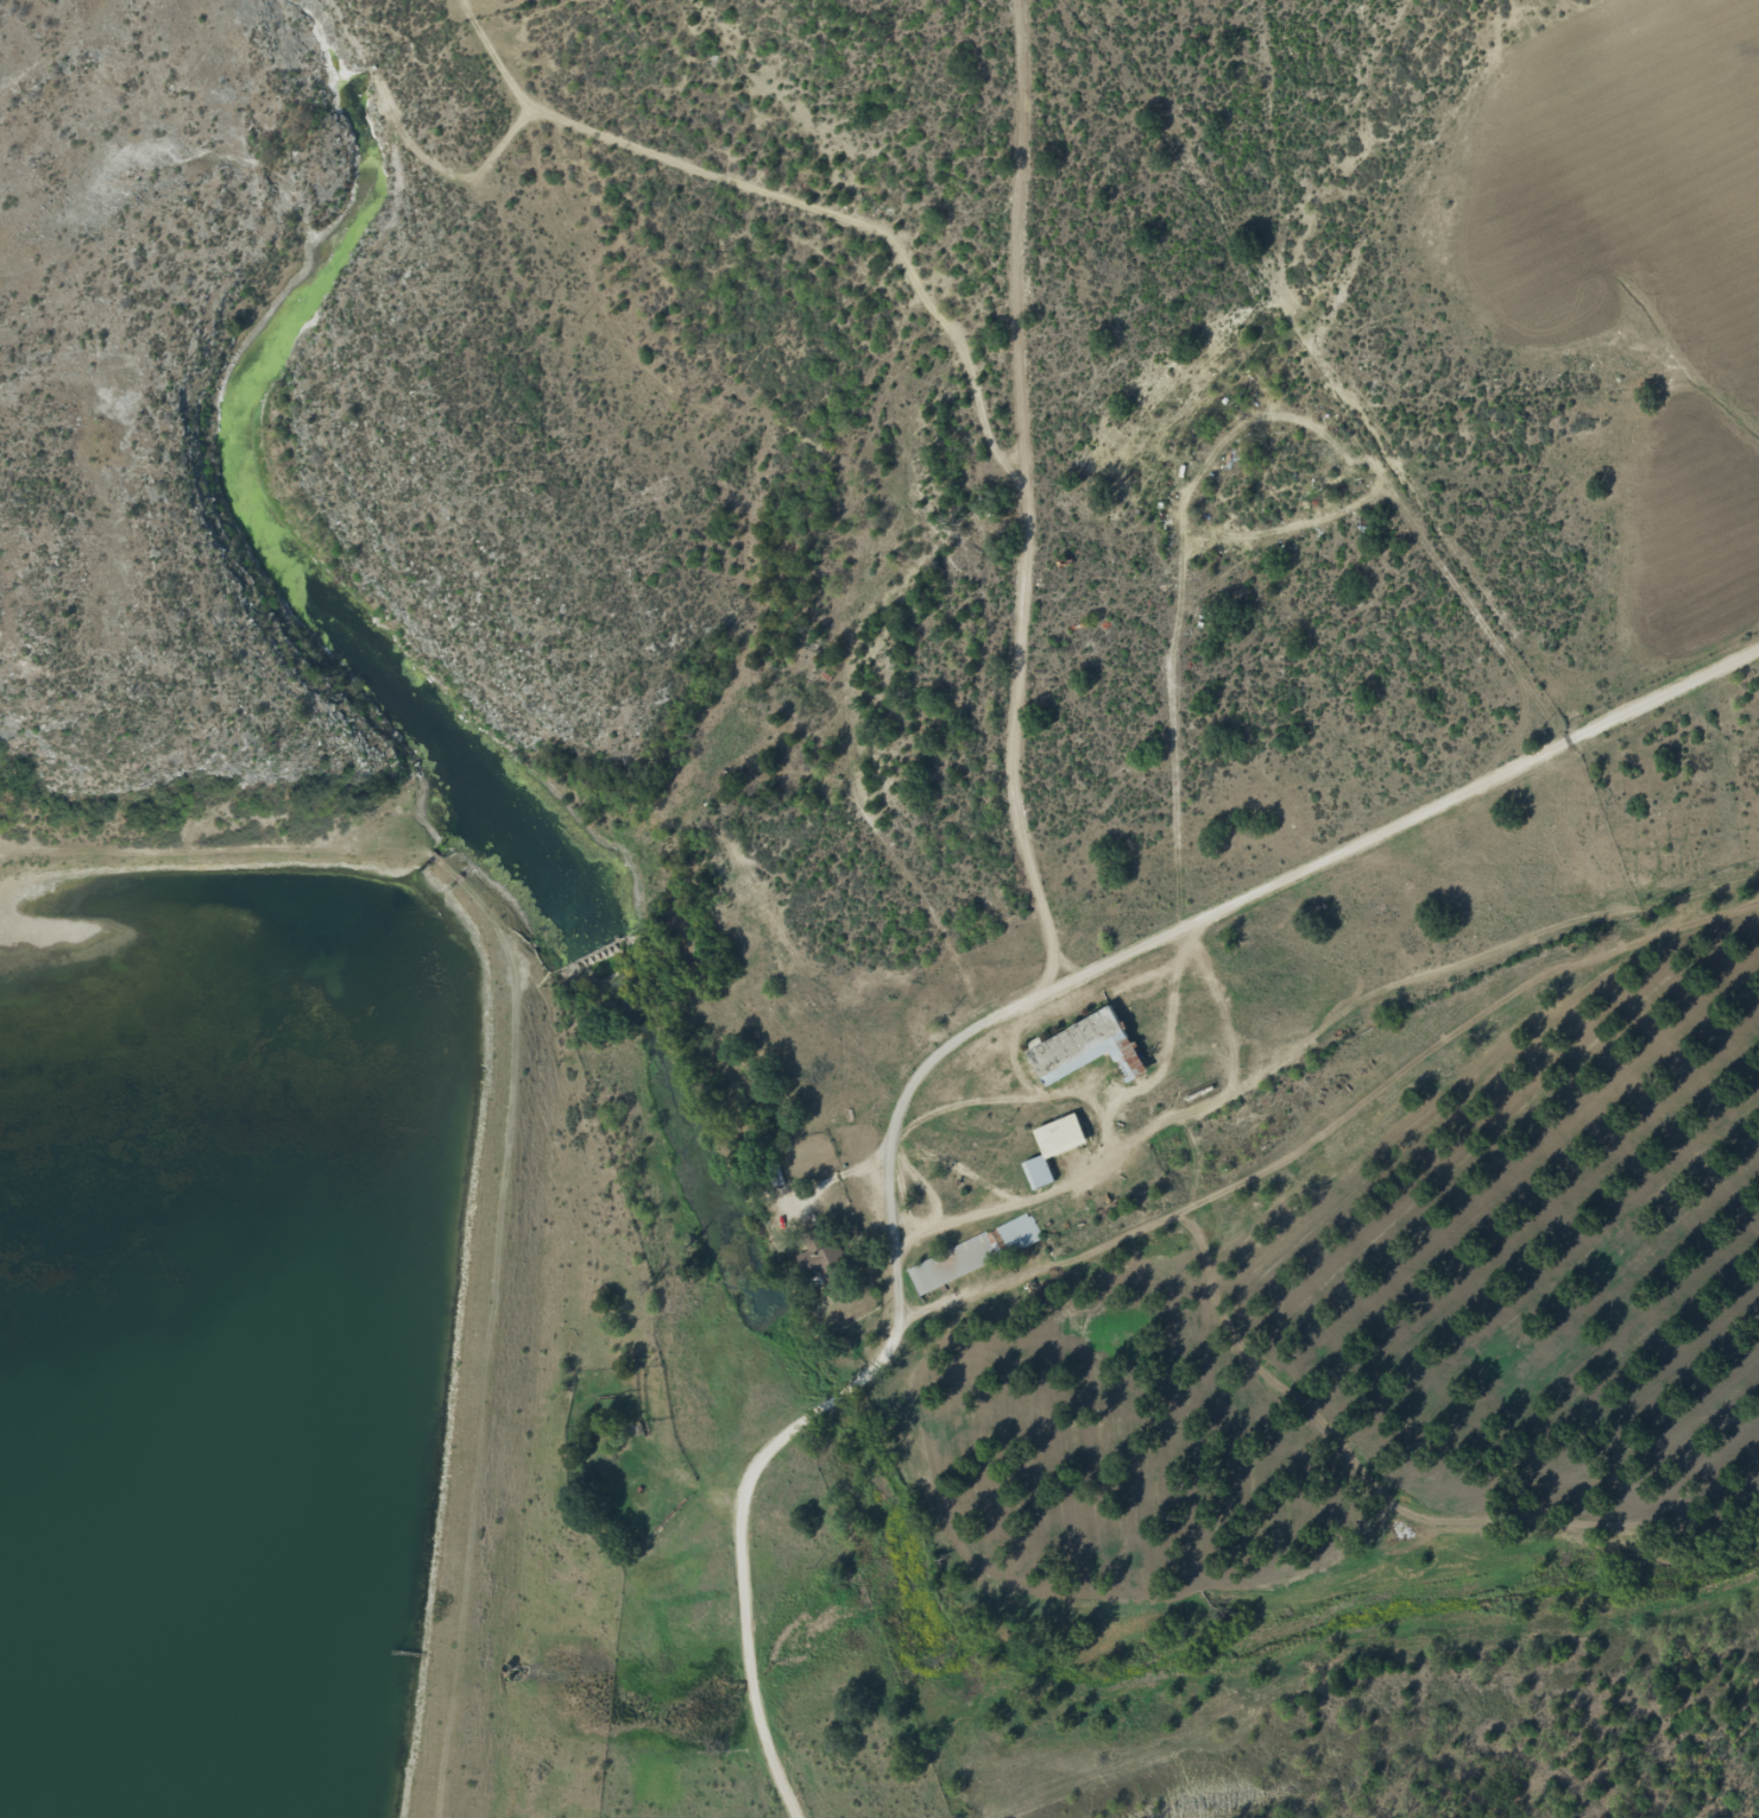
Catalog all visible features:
road: (856, 240)
road: (832, 479)
road: (1057, 492)
building: (1087, 1049)
road: (1004, 1057)
building: (1054, 1149)
building: (972, 1256)
building: (825, 1266)

